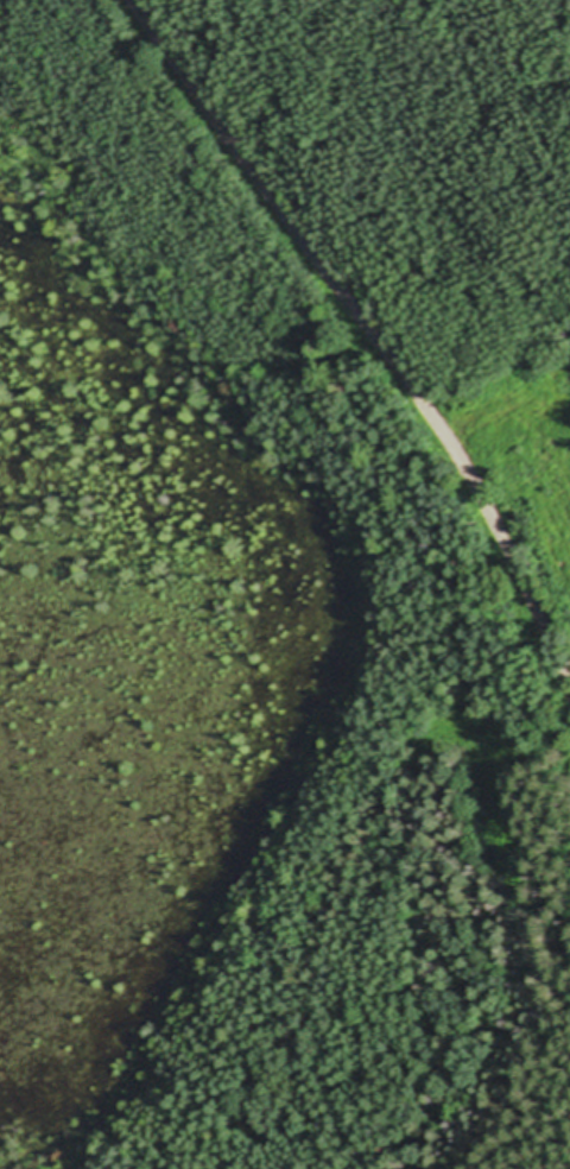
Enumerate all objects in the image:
road: (372, 334)

